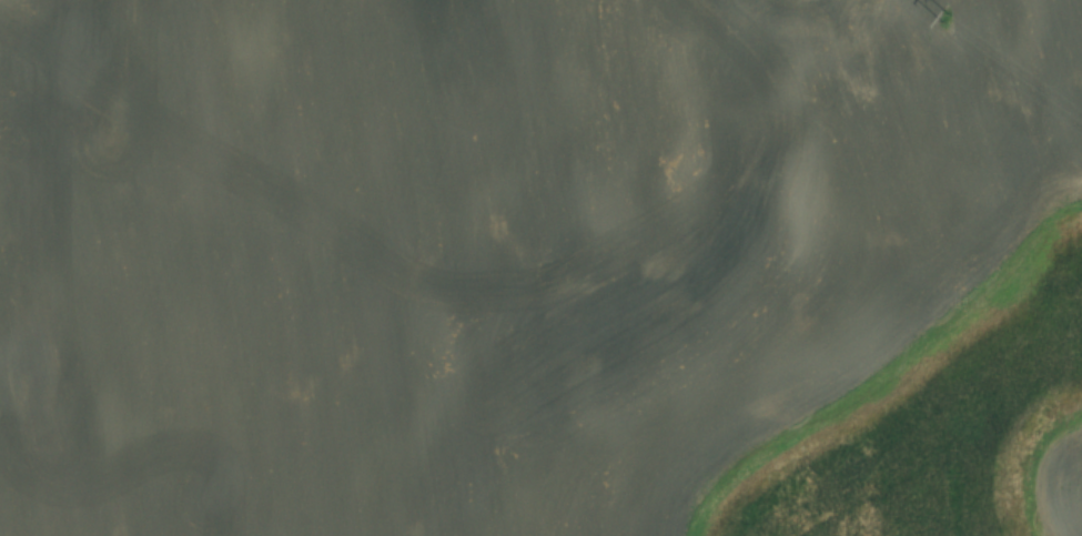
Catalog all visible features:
power tower: (946, 14)

